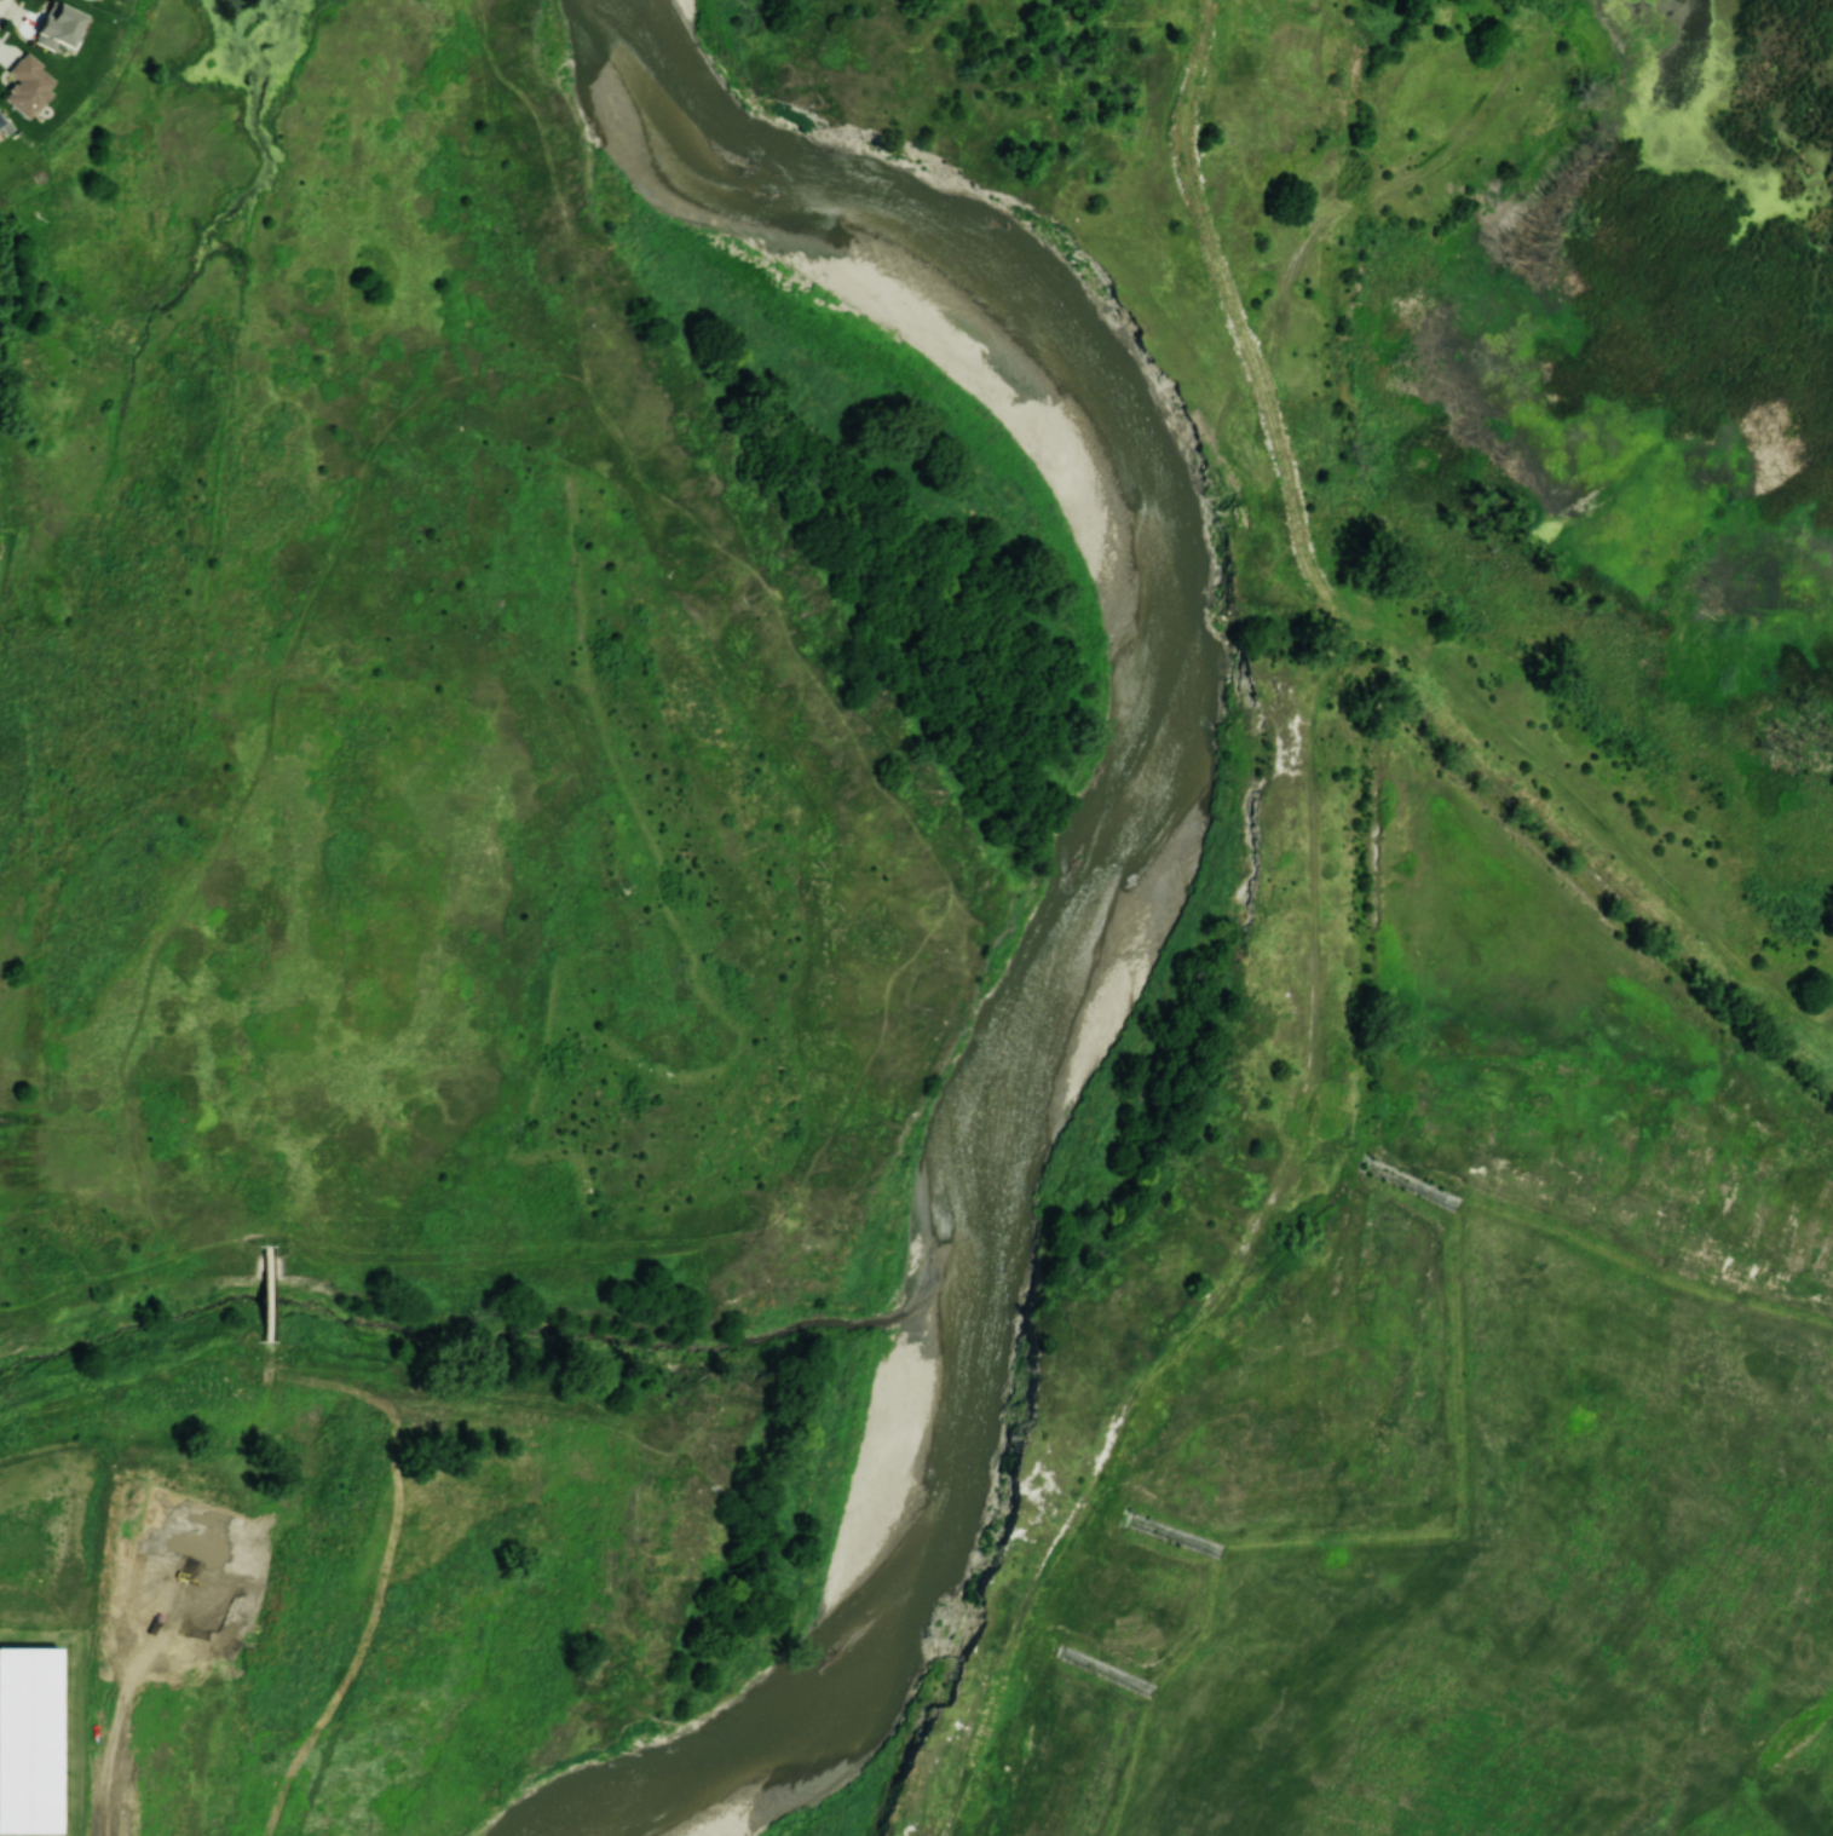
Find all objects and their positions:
road: (1, 1)
building: (56, 28)
building: (25, 85)
river: (1148, 506)
landfill: (1469, 936)
road: (244, 1175)
road: (253, 1222)
road: (270, 1238)
road: (173, 1259)
road: (338, 1266)
road: (46, 1274)
road: (270, 1294)
road: (50, 1296)
road: (269, 1364)
river: (901, 1615)
building: (29, 1740)

